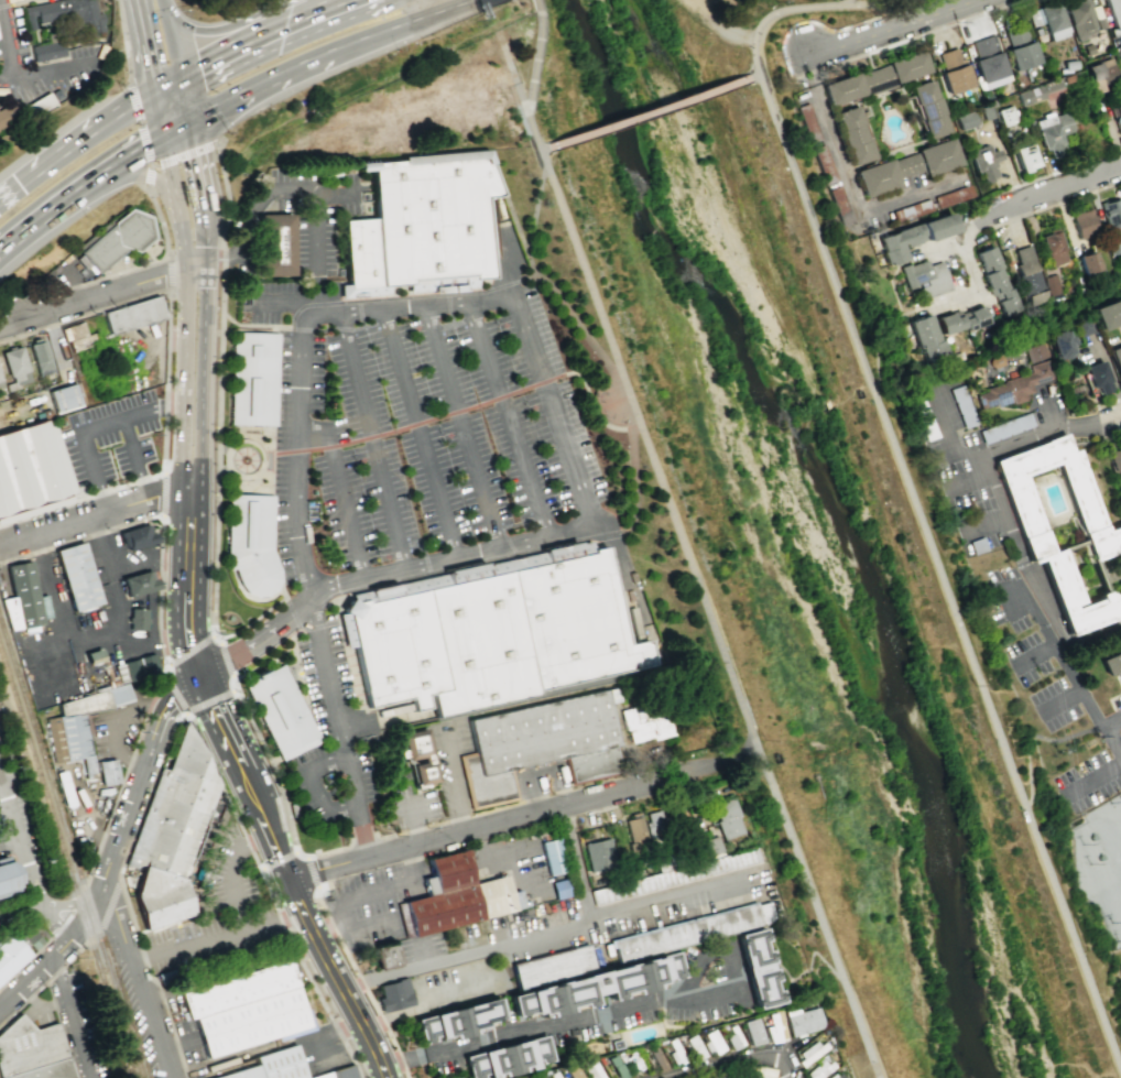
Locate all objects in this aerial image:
road: (152, 1)
road: (904, 6)
road: (456, 7)
road: (946, 9)
road: (325, 10)
road: (815, 12)
building: (1113, 12)
building: (66, 14)
building: (1079, 18)
building: (1048, 20)
road: (293, 23)
road: (717, 26)
road: (384, 30)
road: (216, 32)
road: (863, 35)
road: (173, 37)
road: (124, 40)
road: (6, 47)
road: (149, 47)
building: (1020, 47)
road: (232, 51)
building: (47, 52)
building: (988, 62)
road: (829, 64)
road: (292, 66)
building: (907, 66)
road: (54, 68)
building: (953, 70)
road: (513, 73)
road: (533, 75)
road: (751, 75)
building: (1101, 75)
traffic signals: (179, 80)
building: (857, 85)
road: (168, 87)
building: (1036, 91)
traffic signals: (157, 95)
road: (184, 99)
road: (221, 102)
building: (928, 109)
road: (649, 112)
road: (161, 113)
building: (12, 115)
building: (1005, 115)
road: (392, 116)
building: (1117, 116)
traffic signals: (188, 119)
building: (966, 120)
building: (808, 122)
road: (139, 123)
road: (176, 126)
building: (1053, 132)
traffic signals: (165, 133)
building: (852, 134)
road: (77, 146)
road: (545, 149)
road: (133, 153)
building: (937, 156)
building: (1025, 156)
road: (174, 160)
building: (823, 160)
building: (983, 162)
road: (1059, 170)
building: (885, 173)
road: (141, 176)
road: (199, 182)
road: (848, 182)
road: (1056, 193)
building: (953, 195)
road: (178, 198)
road: (258, 199)
road: (226, 203)
road: (1057, 203)
building: (840, 205)
building: (1111, 211)
road: (51, 216)
road: (159, 221)
building: (431, 221)
road: (533, 222)
building: (938, 222)
building: (1084, 222)
road: (959, 237)
parking lot: (307, 238)
building: (116, 239)
building: (900, 240)
building: (1112, 243)
building: (1053, 248)
building: (277, 250)
road: (202, 254)
road: (317, 255)
building: (358, 259)
building: (1088, 261)
road: (197, 269)
road: (168, 272)
road: (112, 273)
road: (584, 274)
building: (1029, 274)
building: (927, 276)
building: (995, 281)
building: (1051, 285)
road: (973, 291)
road: (97, 295)
road: (281, 301)
road: (380, 308)
road: (563, 309)
road: (84, 315)
building: (1108, 315)
building: (134, 316)
building: (961, 319)
road: (250, 324)
building: (1082, 326)
road: (334, 327)
road: (276, 328)
road: (229, 329)
road: (254, 329)
building: (77, 336)
building: (927, 337)
building: (1062, 344)
road: (220, 356)
building: (1117, 360)
building: (32, 361)
building: (1096, 377)
building: (252, 378)
road: (165, 380)
building: (1016, 381)
road: (300, 390)
road: (548, 390)
building: (65, 398)
road: (1110, 401)
road: (483, 404)
building: (962, 405)
road: (631, 407)
road: (21, 414)
road: (1110, 417)
road: (511, 418)
road: (465, 426)
road: (92, 427)
road: (424, 433)
road: (949, 433)
road: (320, 436)
parking lot: (109, 437)
road: (373, 440)
building: (1114, 457)
road: (133, 461)
road: (262, 462)
building: (949, 466)
road: (231, 468)
building: (31, 472)
road: (255, 472)
parking lot: (414, 473)
road: (191, 477)
road: (634, 478)
road: (163, 491)
road: (273, 494)
road: (81, 497)
building: (961, 499)
road: (352, 512)
road: (1005, 519)
road: (95, 520)
road: (298, 526)
road: (609, 527)
park: (815, 535)
road: (80, 536)
road: (611, 536)
river: (774, 537)
building: (1102, 537)
building: (140, 541)
road: (216, 543)
building: (251, 545)
building: (978, 546)
road: (453, 560)
road: (148, 562)
road: (468, 570)
road: (693, 573)
road: (939, 575)
building: (80, 581)
building: (138, 585)
road: (160, 591)
road: (283, 594)
building: (31, 600)
road: (304, 607)
road: (340, 610)
road: (293, 612)
building: (137, 618)
building: (577, 620)
road: (251, 621)
road: (320, 624)
road: (99, 635)
road: (209, 639)
road: (176, 642)
building: (482, 643)
road: (134, 645)
road: (247, 646)
building: (398, 649)
road: (1035, 653)
building: (94, 656)
road: (272, 657)
road: (1062, 660)
road: (351, 662)
building: (1111, 663)
building: (141, 669)
road: (167, 674)
road: (298, 674)
traffic signals: (200, 678)
road: (231, 682)
building: (120, 696)
road: (1059, 700)
building: (86, 705)
road: (170, 709)
road: (151, 710)
road: (192, 711)
building: (283, 714)
road: (122, 716)
road: (378, 719)
road: (1111, 721)
building: (646, 725)
road: (342, 728)
parking lot: (115, 730)
road: (115, 736)
road: (1032, 737)
road: (1115, 738)
road: (228, 739)
building: (67, 740)
building: (543, 742)
road: (1111, 742)
building: (417, 755)
road: (131, 759)
road: (731, 760)
road: (270, 769)
building: (108, 775)
road: (1093, 778)
road: (313, 785)
road: (224, 793)
building: (1120, 817)
building: (729, 820)
road: (436, 821)
road: (498, 823)
parking lot: (20, 824)
building: (655, 828)
building: (634, 838)
road: (255, 839)
road: (273, 839)
road: (9, 840)
building: (170, 840)
road: (99, 842)
building: (711, 846)
road: (21, 847)
parking lot: (1, 850)
railway: (70, 850)
road: (302, 854)
building: (554, 857)
building: (600, 857)
road: (280, 860)
road: (576, 862)
railway: (66, 864)
power substation: (1100, 865)
building: (202, 873)
road: (311, 873)
building: (675, 876)
building: (7, 878)
road: (233, 888)
road: (96, 893)
building: (459, 896)
road: (360, 897)
road: (69, 905)
parking lot: (372, 905)
road: (21, 908)
parking lot: (13, 913)
road: (817, 914)
parking lot: (222, 915)
road: (329, 923)
road: (53, 926)
parking lot: (491, 929)
building: (1115, 929)
road: (540, 932)
building: (688, 935)
road: (218, 938)
road: (814, 951)
building: (10, 954)
building: (390, 956)
building: (554, 967)
building: (764, 970)
road: (312, 974)
road: (134, 978)
road: (338, 978)
road: (361, 984)
parking lot: (455, 988)
building: (239, 989)
building: (598, 989)
building: (396, 995)
road: (607, 1013)
road: (69, 1019)
building: (802, 1020)
building: (252, 1022)
building: (464, 1024)
parking lot: (79, 1026)
building: (774, 1027)
building: (752, 1031)
building: (732, 1036)
building: (711, 1042)
building: (695, 1047)
building: (31, 1050)
building: (813, 1052)
road: (784, 1053)
parking lot: (325, 1056)
building: (512, 1059)
building: (273, 1065)
road: (729, 1065)
building: (616, 1066)
building: (819, 1068)
building: (592, 1070)
building: (574, 1072)
building: (342, 1074)
building: (836, 1075)
building: (555, 1076)

